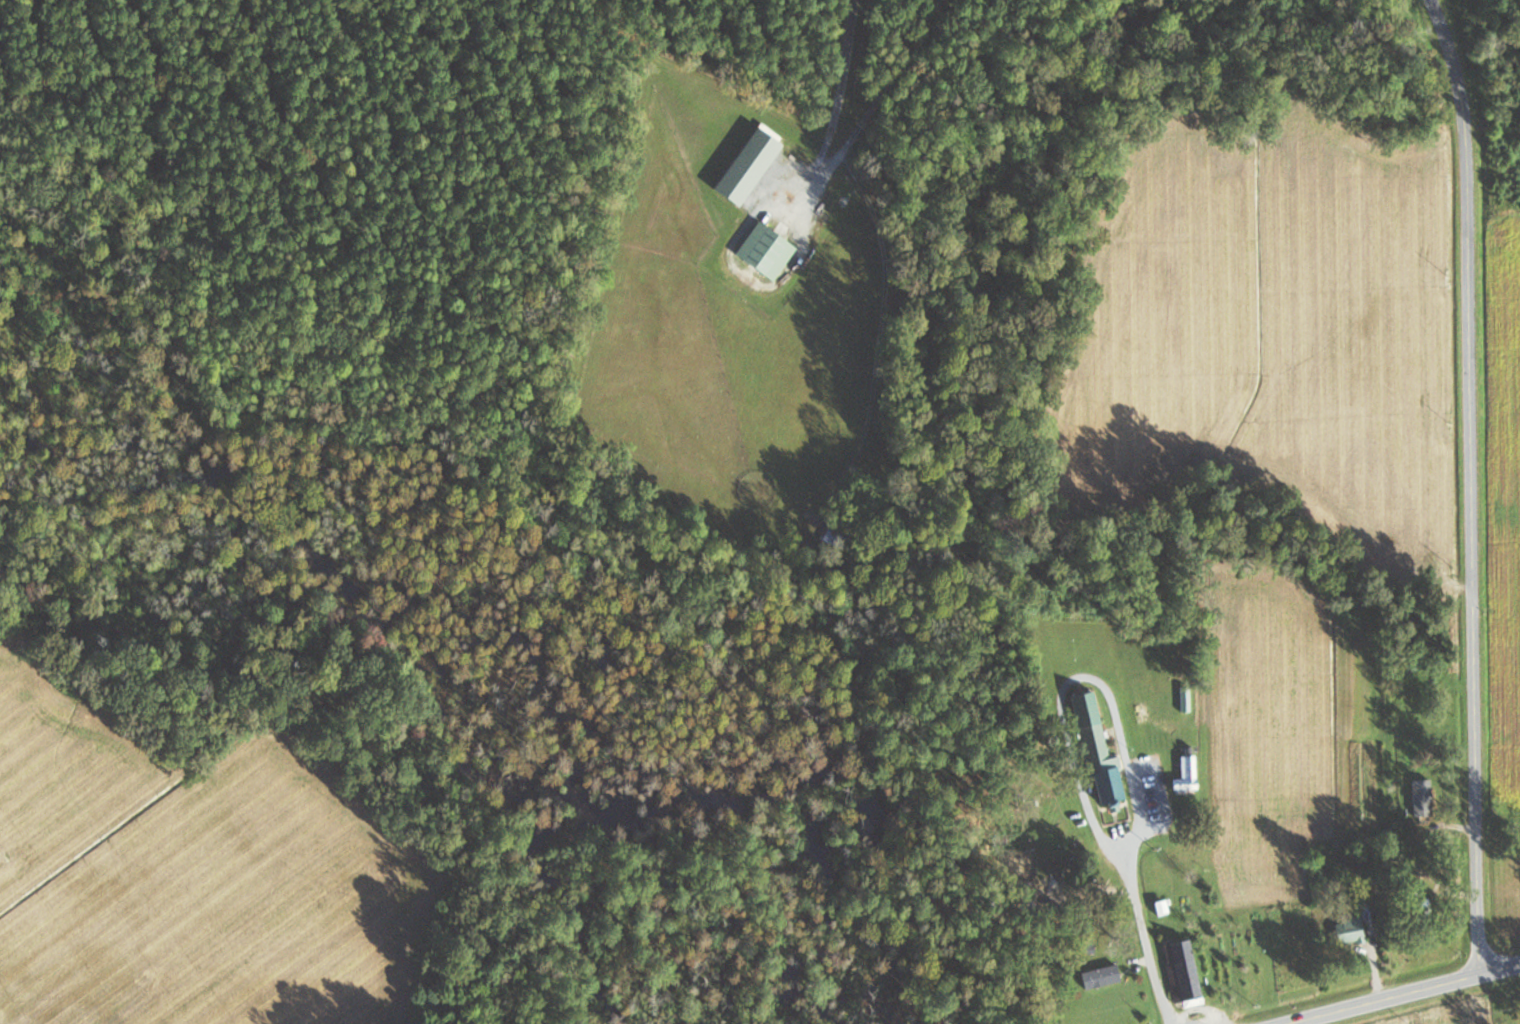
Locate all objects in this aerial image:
building: (762, 250)
road: (1467, 391)
building: (1093, 746)
building: (1184, 774)
building: (1419, 796)
road: (1473, 881)
building: (1348, 924)
building: (1180, 971)
building: (1098, 976)
road: (1402, 993)

